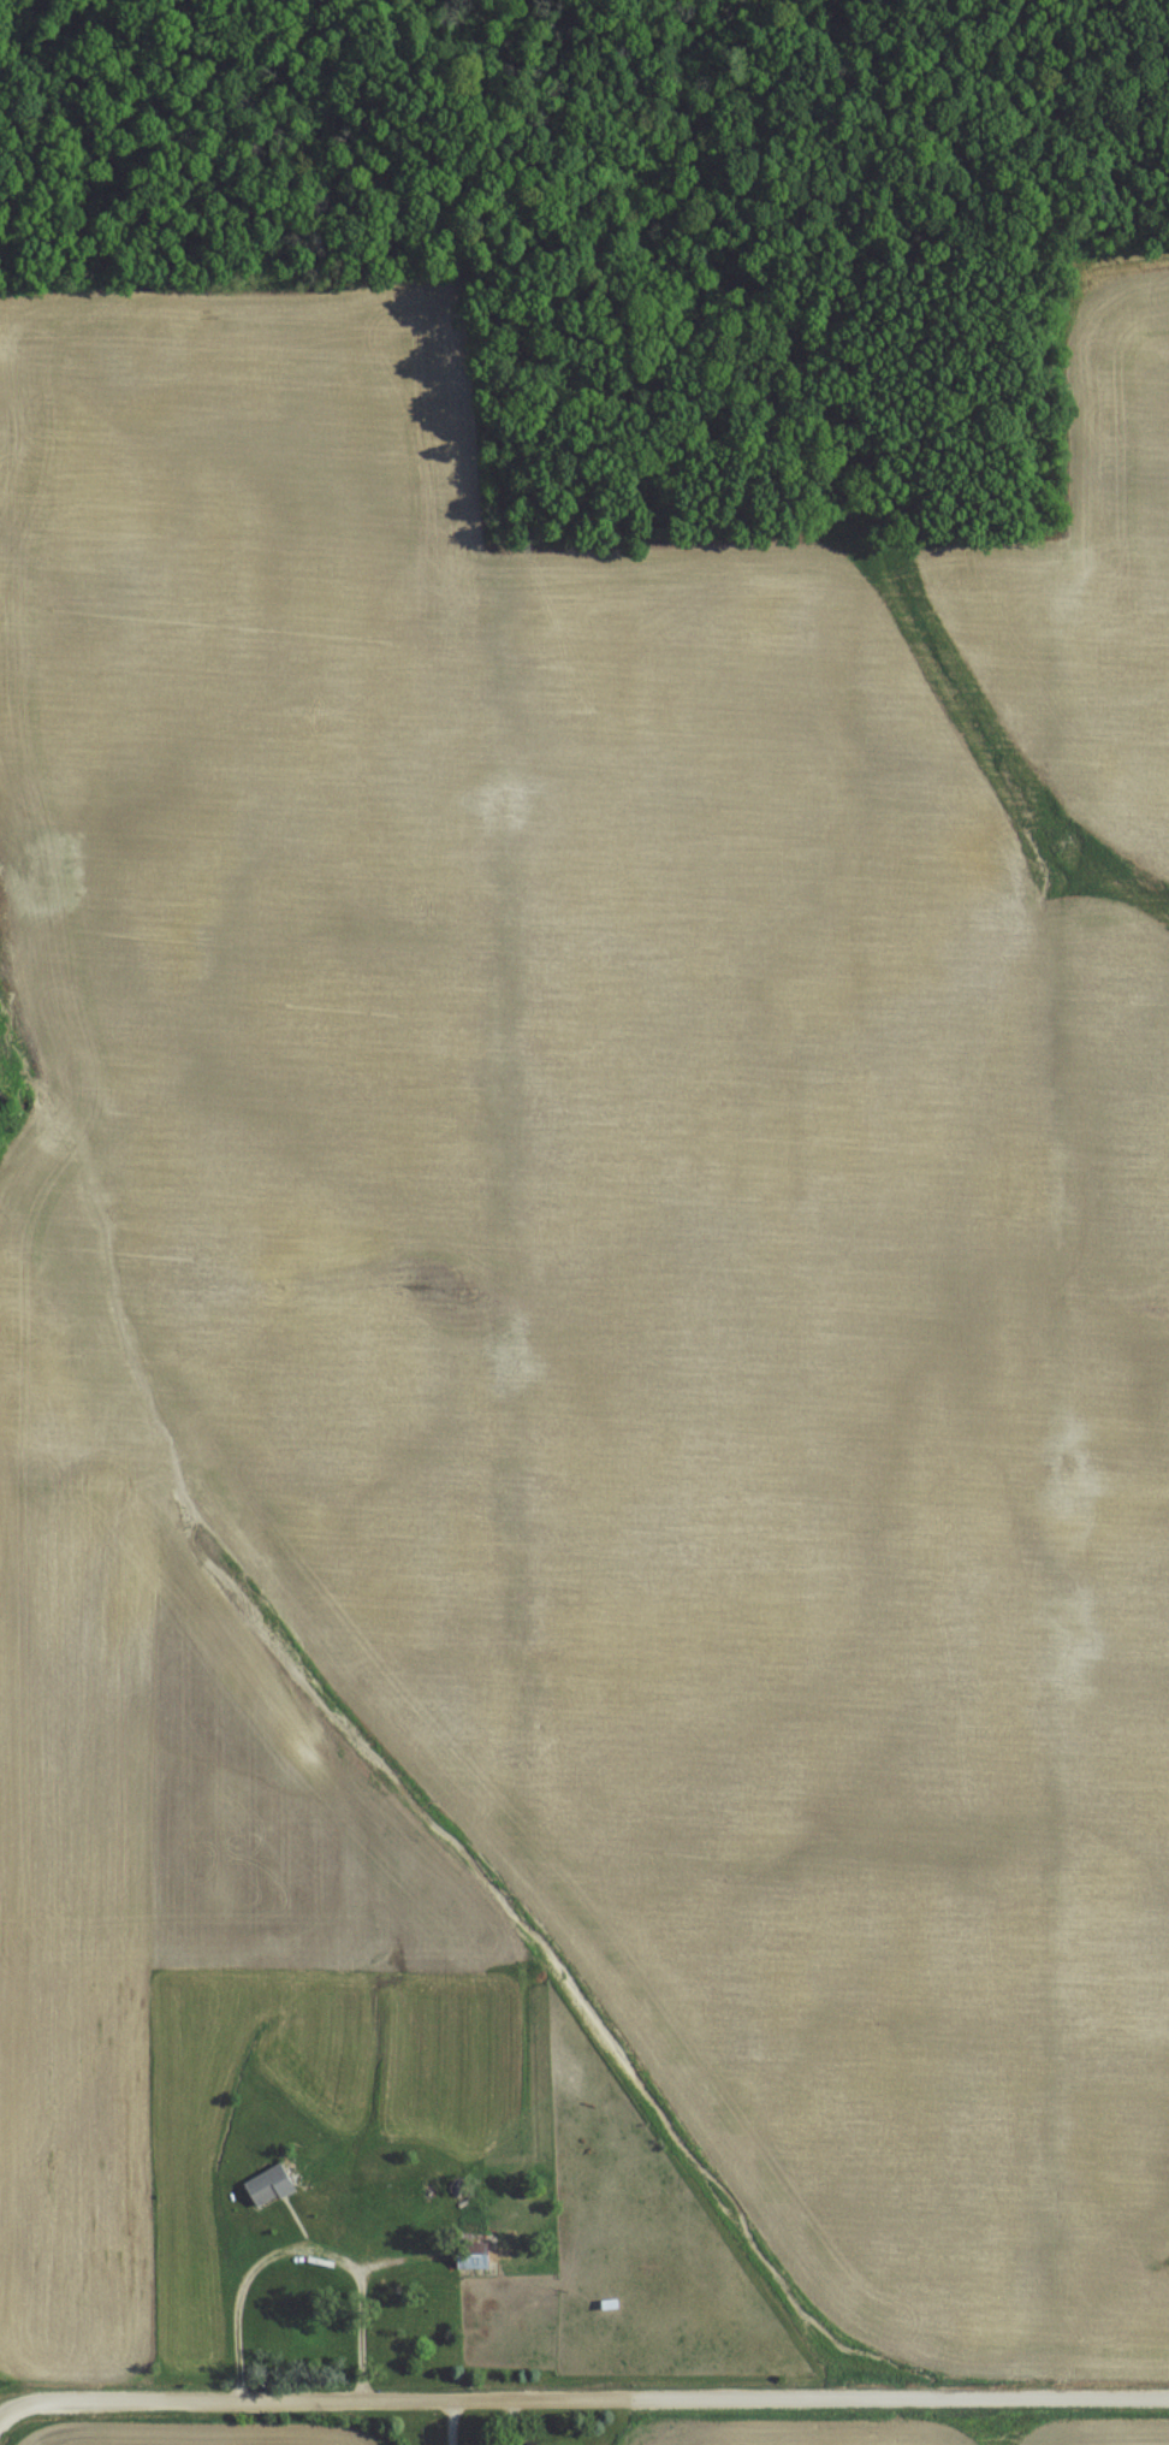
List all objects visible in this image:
building: (262, 2184)
road: (299, 2250)
road: (581, 2396)
road: (450, 2420)

